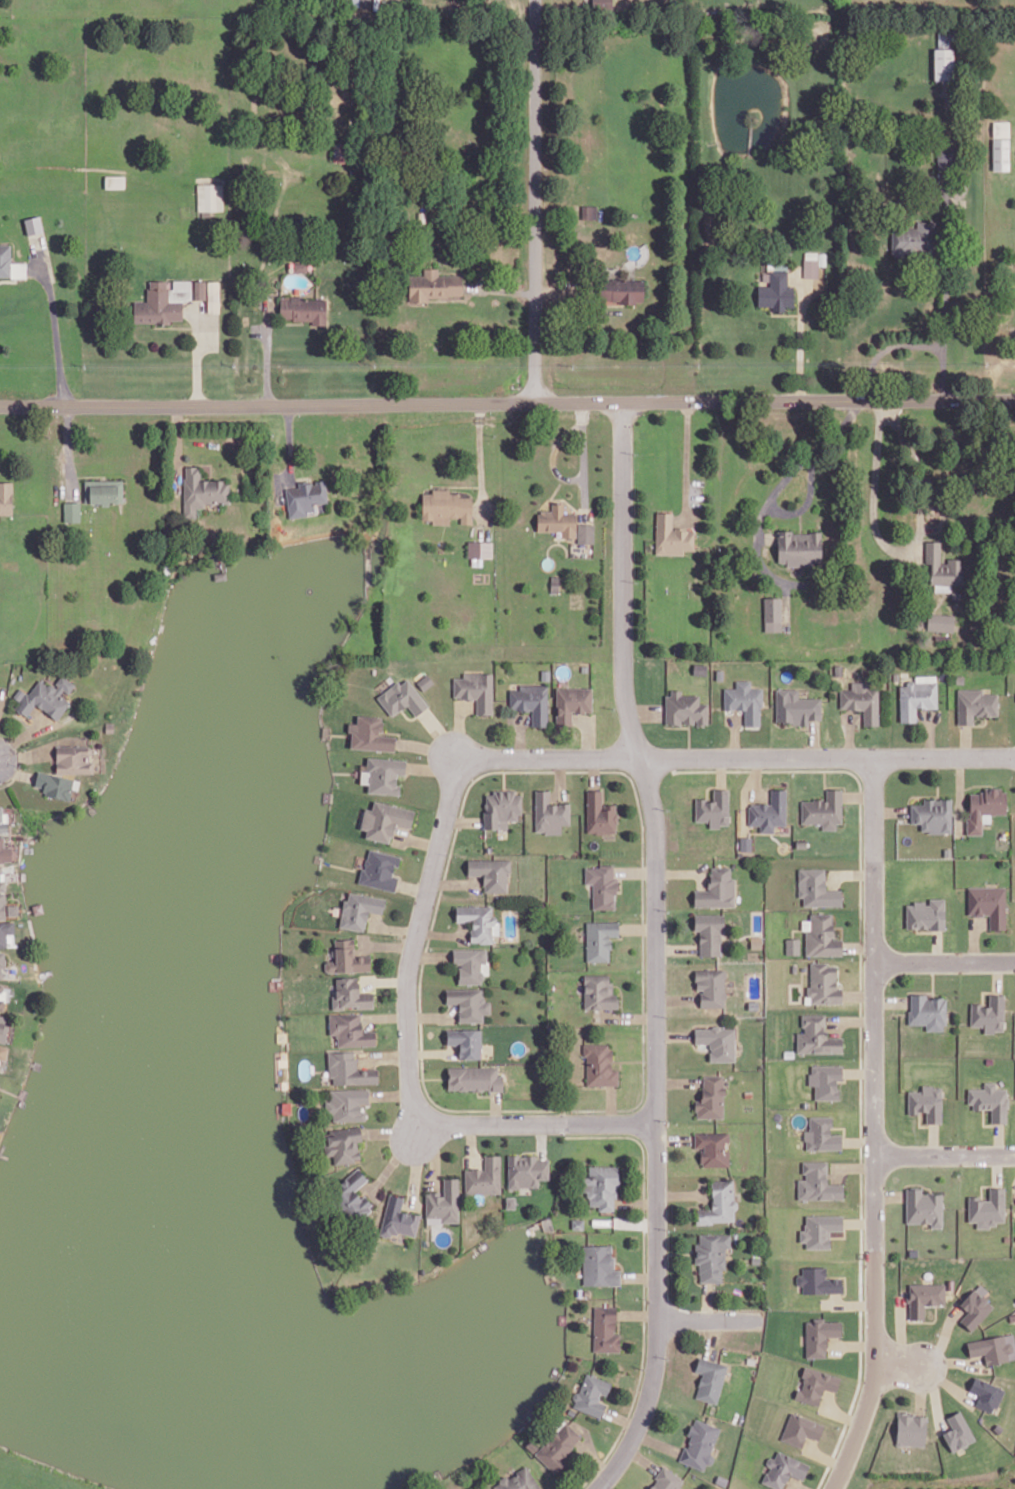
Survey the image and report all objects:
building: (602, 3)
building: (952, 33)
building: (940, 36)
building: (941, 63)
road: (956, 148)
building: (998, 153)
building: (942, 156)
building: (115, 180)
building: (210, 195)
road: (533, 200)
building: (589, 210)
building: (33, 225)
building: (909, 237)
building: (5, 258)
building: (300, 265)
road: (28, 267)
building: (808, 267)
building: (18, 270)
road: (14, 283)
building: (431, 285)
road: (943, 285)
building: (200, 288)
road: (504, 289)
building: (623, 289)
road: (560, 290)
building: (773, 291)
building: (213, 295)
building: (157, 304)
building: (304, 308)
road: (53, 320)
road: (286, 322)
road: (177, 325)
road: (797, 340)
road: (885, 346)
road: (267, 351)
road: (197, 359)
road: (507, 401)
road: (177, 446)
road: (68, 450)
road: (289, 452)
road: (554, 454)
road: (686, 459)
road: (583, 460)
road: (201, 463)
road: (480, 465)
flagpole: (801, 474)
building: (104, 489)
building: (201, 489)
road: (774, 490)
building: (6, 496)
building: (306, 496)
road: (806, 498)
building: (447, 506)
building: (73, 510)
building: (558, 519)
road: (800, 520)
building: (586, 532)
building: (670, 535)
road: (942, 538)
building: (798, 546)
building: (480, 548)
road: (903, 549)
pier: (220, 565)
building: (941, 565)
road: (920, 577)
road: (786, 601)
building: (771, 613)
building: (939, 621)
building: (676, 649)
building: (585, 667)
building: (698, 667)
building: (837, 669)
building: (546, 673)
building: (719, 674)
building: (895, 675)
building: (958, 678)
building: (425, 681)
building: (475, 688)
road: (0, 692)
building: (19, 693)
building: (403, 696)
building: (47, 697)
building: (915, 697)
building: (743, 699)
building: (532, 700)
building: (860, 700)
building: (573, 702)
building: (973, 703)
building: (795, 706)
building: (682, 708)
road: (645, 711)
building: (110, 726)
road: (670, 726)
pier: (325, 730)
road: (459, 730)
road: (393, 731)
road: (341, 733)
building: (371, 733)
road: (930, 733)
road: (520, 734)
road: (849, 734)
road: (22, 735)
road: (442, 735)
road: (734, 735)
road: (587, 736)
road: (813, 738)
road: (688, 740)
road: (965, 740)
street lamp: (1005, 744)
street lamp: (553, 745)
road: (428, 747)
road: (25, 755)
road: (665, 756)
road: (944, 756)
building: (74, 758)
street lamp: (736, 767)
road: (433, 768)
road: (16, 771)
road: (486, 771)
road: (17, 772)
road: (594, 772)
building: (385, 773)
road: (753, 776)
road: (937, 776)
road: (560, 777)
road: (504, 778)
building: (55, 783)
road: (823, 783)
road: (958, 794)
pier: (327, 795)
road: (857, 795)
building: (502, 806)
building: (983, 806)
pier: (92, 807)
building: (822, 808)
building: (713, 809)
building: (768, 810)
road: (889, 810)
building: (600, 812)
building: (549, 813)
building: (931, 814)
building: (386, 819)
road: (463, 820)
building: (3, 822)
road: (417, 840)
building: (746, 842)
building: (800, 843)
building: (4, 850)
building: (946, 851)
street lamp: (447, 853)
road: (860, 854)
pier: (317, 856)
building: (1, 867)
building: (380, 868)
road: (635, 870)
building: (491, 872)
road: (680, 872)
road: (852, 872)
road: (453, 883)
building: (2, 884)
building: (603, 884)
road: (413, 887)
building: (817, 887)
building: (717, 888)
building: (2, 904)
building: (987, 904)
pier: (37, 907)
building: (13, 908)
building: (359, 909)
building: (925, 914)
building: (478, 920)
road: (639, 927)
road: (395, 928)
building: (6, 930)
building: (710, 930)
road: (441, 933)
building: (823, 935)
building: (600, 937)
road: (415, 939)
road: (973, 940)
road: (387, 944)
building: (792, 944)
road: (859, 946)
road: (676, 947)
road: (656, 950)
pier: (276, 956)
road: (430, 956)
building: (348, 957)
road: (943, 961)
building: (2, 962)
pier: (42, 963)
building: (470, 964)
building: (794, 967)
street lamp: (645, 968)
road: (932, 976)
road: (384, 980)
building: (824, 982)
pier: (275, 983)
street lamp: (887, 983)
building: (712, 985)
building: (1, 986)
building: (599, 991)
building: (351, 994)
road: (859, 994)
road: (621, 996)
road: (889, 1001)
building: (1, 1003)
building: (468, 1004)
building: (754, 1004)
building: (926, 1010)
road: (429, 1015)
building: (988, 1015)
road: (385, 1016)
road: (628, 1016)
road: (851, 1020)
building: (3, 1027)
building: (351, 1028)
road: (673, 1034)
building: (817, 1034)
pier: (282, 1036)
building: (718, 1041)
building: (465, 1042)
street lamp: (395, 1046)
building: (3, 1051)
road: (431, 1051)
road: (384, 1057)
road: (635, 1060)
pier: (36, 1064)
building: (600, 1064)
building: (349, 1068)
road: (427, 1077)
building: (474, 1078)
road: (678, 1081)
building: (825, 1081)
building: (749, 1093)
pier: (21, 1094)
road: (391, 1094)
building: (712, 1097)
building: (989, 1101)
building: (347, 1102)
road: (611, 1103)
building: (926, 1103)
road: (495, 1106)
street lamp: (469, 1111)
road: (539, 1122)
road: (873, 1126)
road: (394, 1131)
building: (821, 1135)
road: (674, 1138)
road: (541, 1139)
building: (343, 1142)
pier: (0, 1143)
road: (471, 1143)
building: (713, 1147)
road: (432, 1153)
pier: (3, 1154)
road: (944, 1154)
road: (396, 1156)
road: (415, 1163)
road: (853, 1164)
building: (526, 1169)
building: (485, 1175)
building: (818, 1181)
road: (861, 1182)
building: (602, 1184)
building: (353, 1193)
road: (680, 1193)
road: (888, 1194)
building: (445, 1200)
building: (510, 1201)
road: (636, 1201)
building: (720, 1202)
building: (921, 1206)
building: (987, 1209)
building: (399, 1218)
building: (577, 1222)
building: (819, 1230)
pier: (482, 1244)
building: (912, 1251)
road: (675, 1252)
building: (712, 1254)
building: (756, 1259)
building: (599, 1264)
road: (638, 1276)
building: (818, 1281)
road: (644, 1286)
building: (586, 1291)
street lamp: (646, 1297)
building: (924, 1298)
road: (706, 1300)
pier: (334, 1301)
street lamp: (862, 1309)
building: (973, 1309)
road: (638, 1313)
pier: (562, 1317)
road: (710, 1318)
building: (605, 1328)
building: (820, 1334)
road: (711, 1336)
road: (856, 1341)
building: (990, 1348)
road: (950, 1359)
road: (897, 1364)
pier: (555, 1371)
building: (711, 1377)
road: (945, 1378)
building: (816, 1385)
road: (920, 1388)
building: (591, 1393)
building: (986, 1395)
building: (572, 1410)
pier: (530, 1414)
road: (622, 1418)
building: (909, 1428)
building: (800, 1430)
building: (957, 1432)
road: (657, 1442)
building: (700, 1443)
building: (533, 1445)
building: (557, 1446)
road: (593, 1458)
road: (642, 1459)
building: (784, 1468)
building: (667, 1479)
road: (821, 1479)
building: (519, 1480)
road: (797, 1485)
road: (603, 1487)

